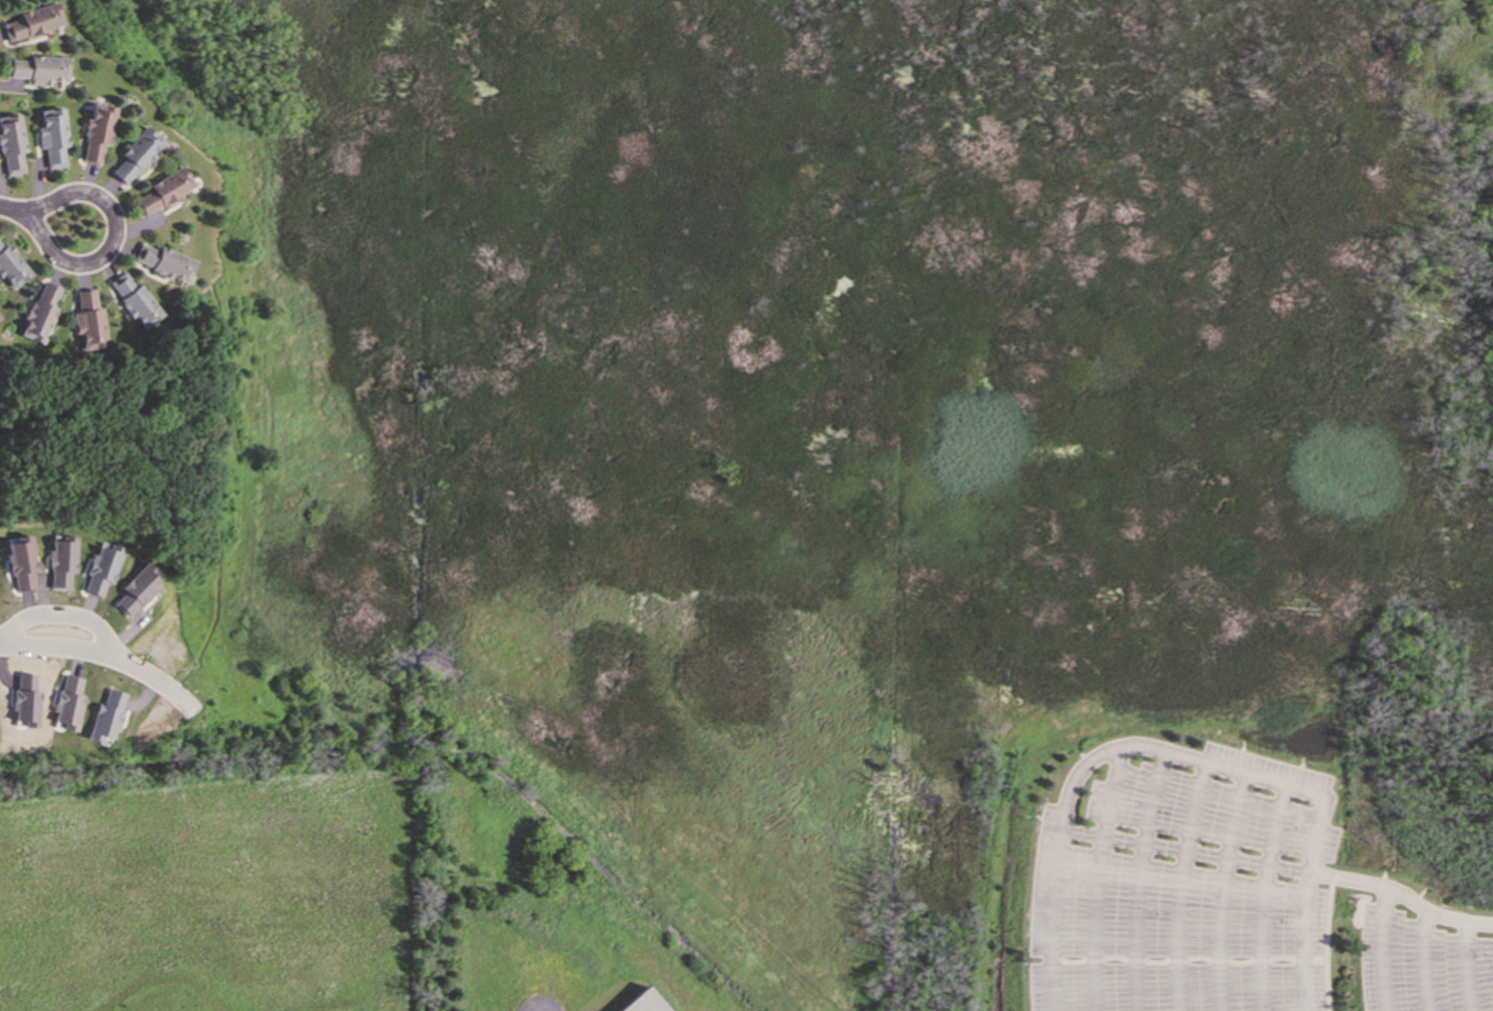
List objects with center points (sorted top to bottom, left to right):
building: (31, 21)
building: (37, 68)
building: (95, 132)
building: (50, 135)
building: (10, 144)
building: (134, 154)
building: (162, 189)
road: (11, 206)
road: (113, 237)
building: (162, 261)
building: (10, 267)
building: (133, 300)
building: (38, 312)
building: (86, 320)
building: (19, 560)
building: (59, 560)
building: (99, 568)
building: (135, 589)
road: (109, 653)
building: (66, 703)
building: (105, 715)
road: (1153, 747)
road: (1386, 891)
road: (1464, 965)
building: (642, 1002)

